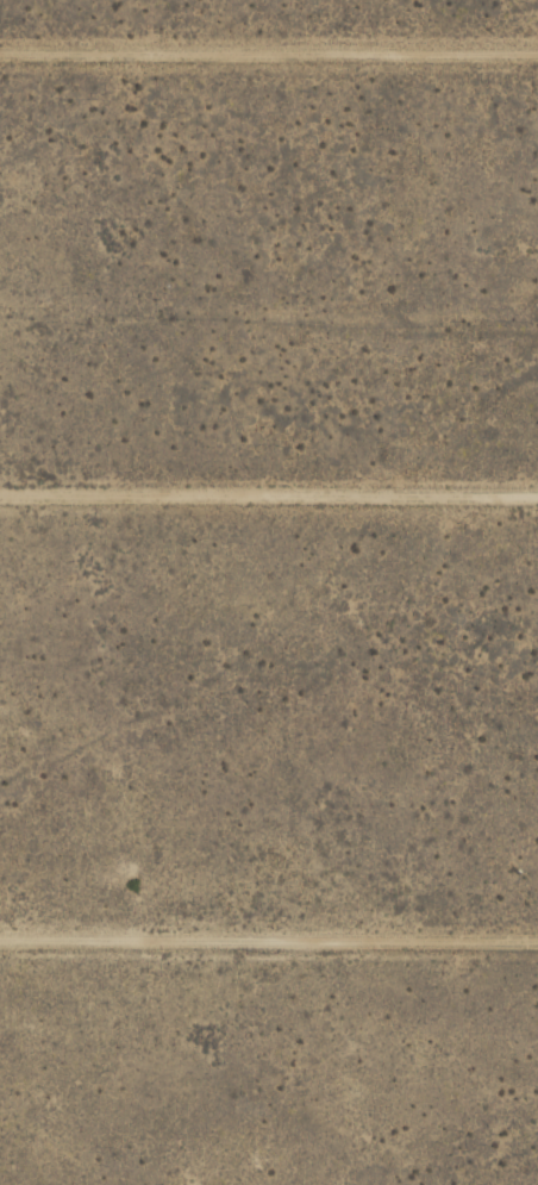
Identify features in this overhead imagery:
road: (269, 52)
road: (269, 495)
road: (269, 937)

